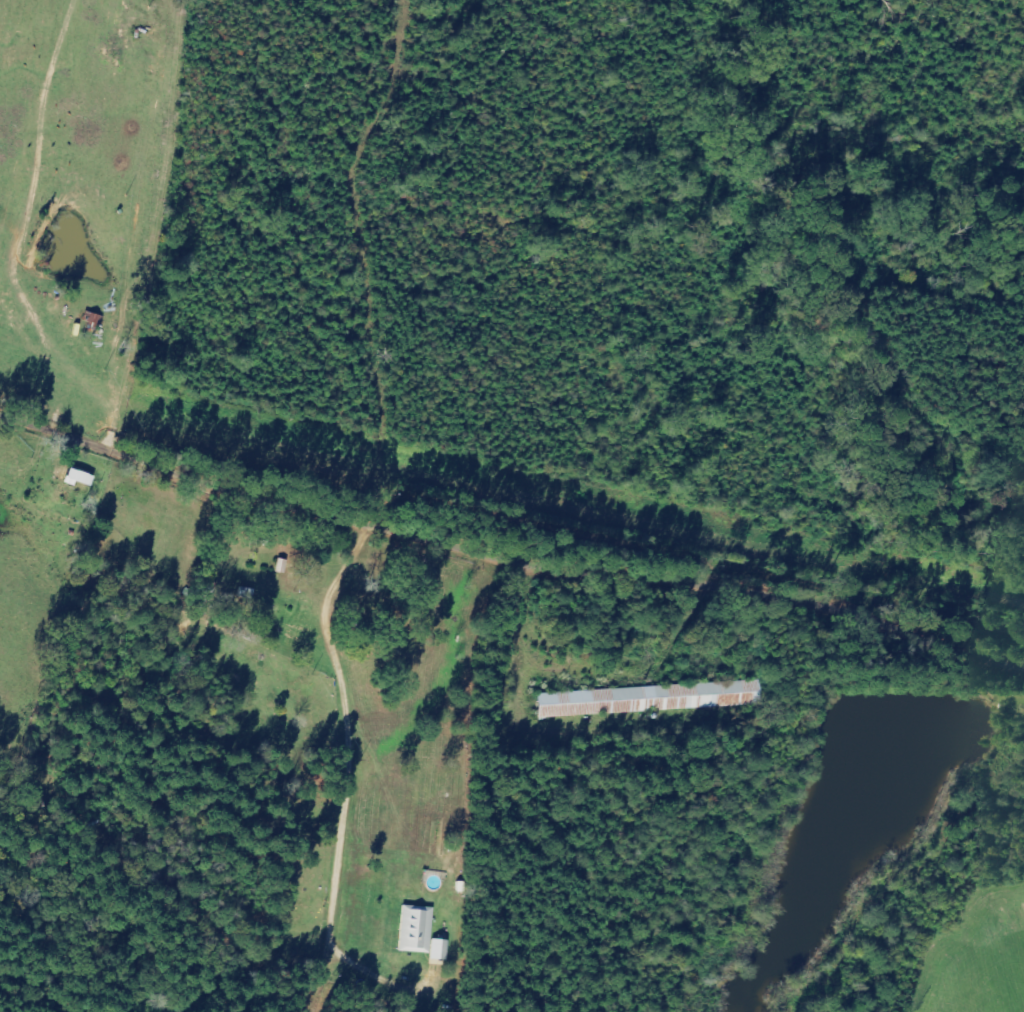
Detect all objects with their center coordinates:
road: (365, 267)
road: (508, 579)
building: (653, 699)
road: (887, 834)
building: (421, 930)
building: (444, 950)

